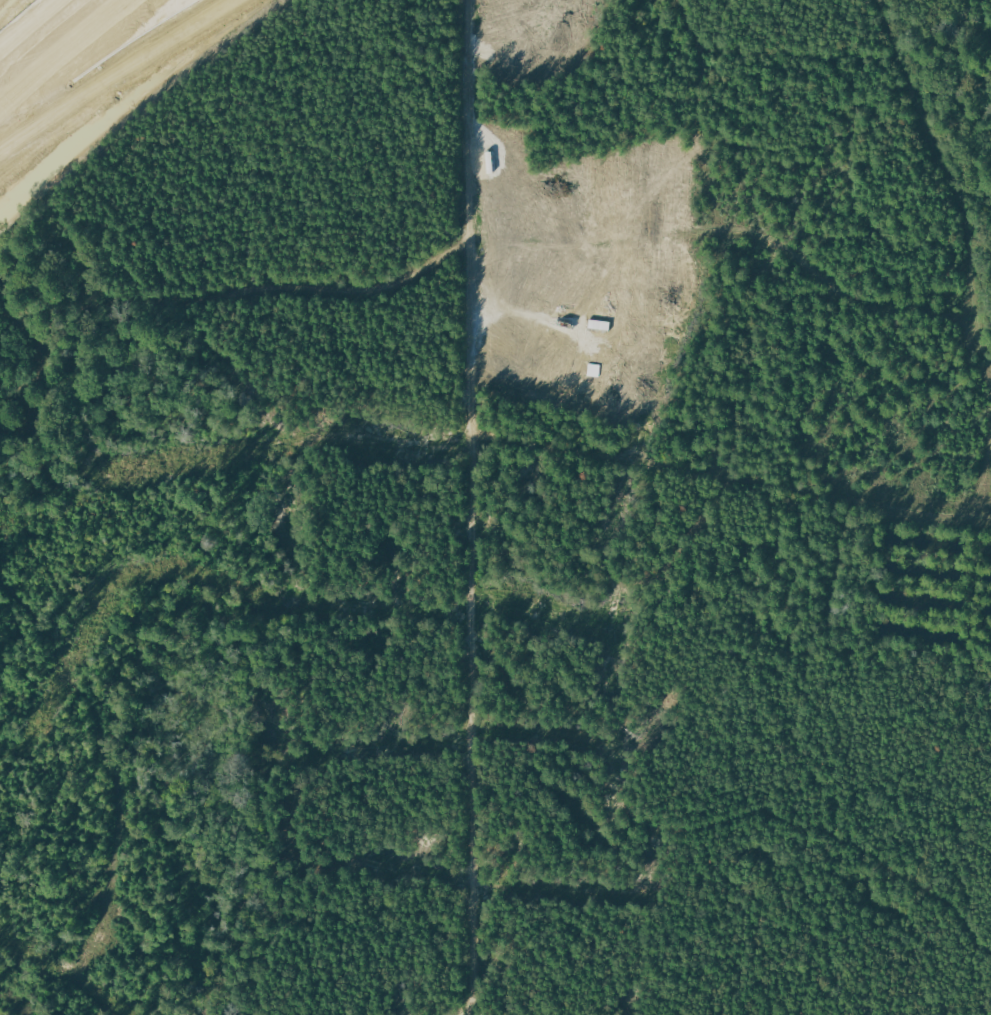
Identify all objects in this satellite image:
road: (28, 24)
road: (64, 55)
road: (120, 76)
road: (469, 507)

